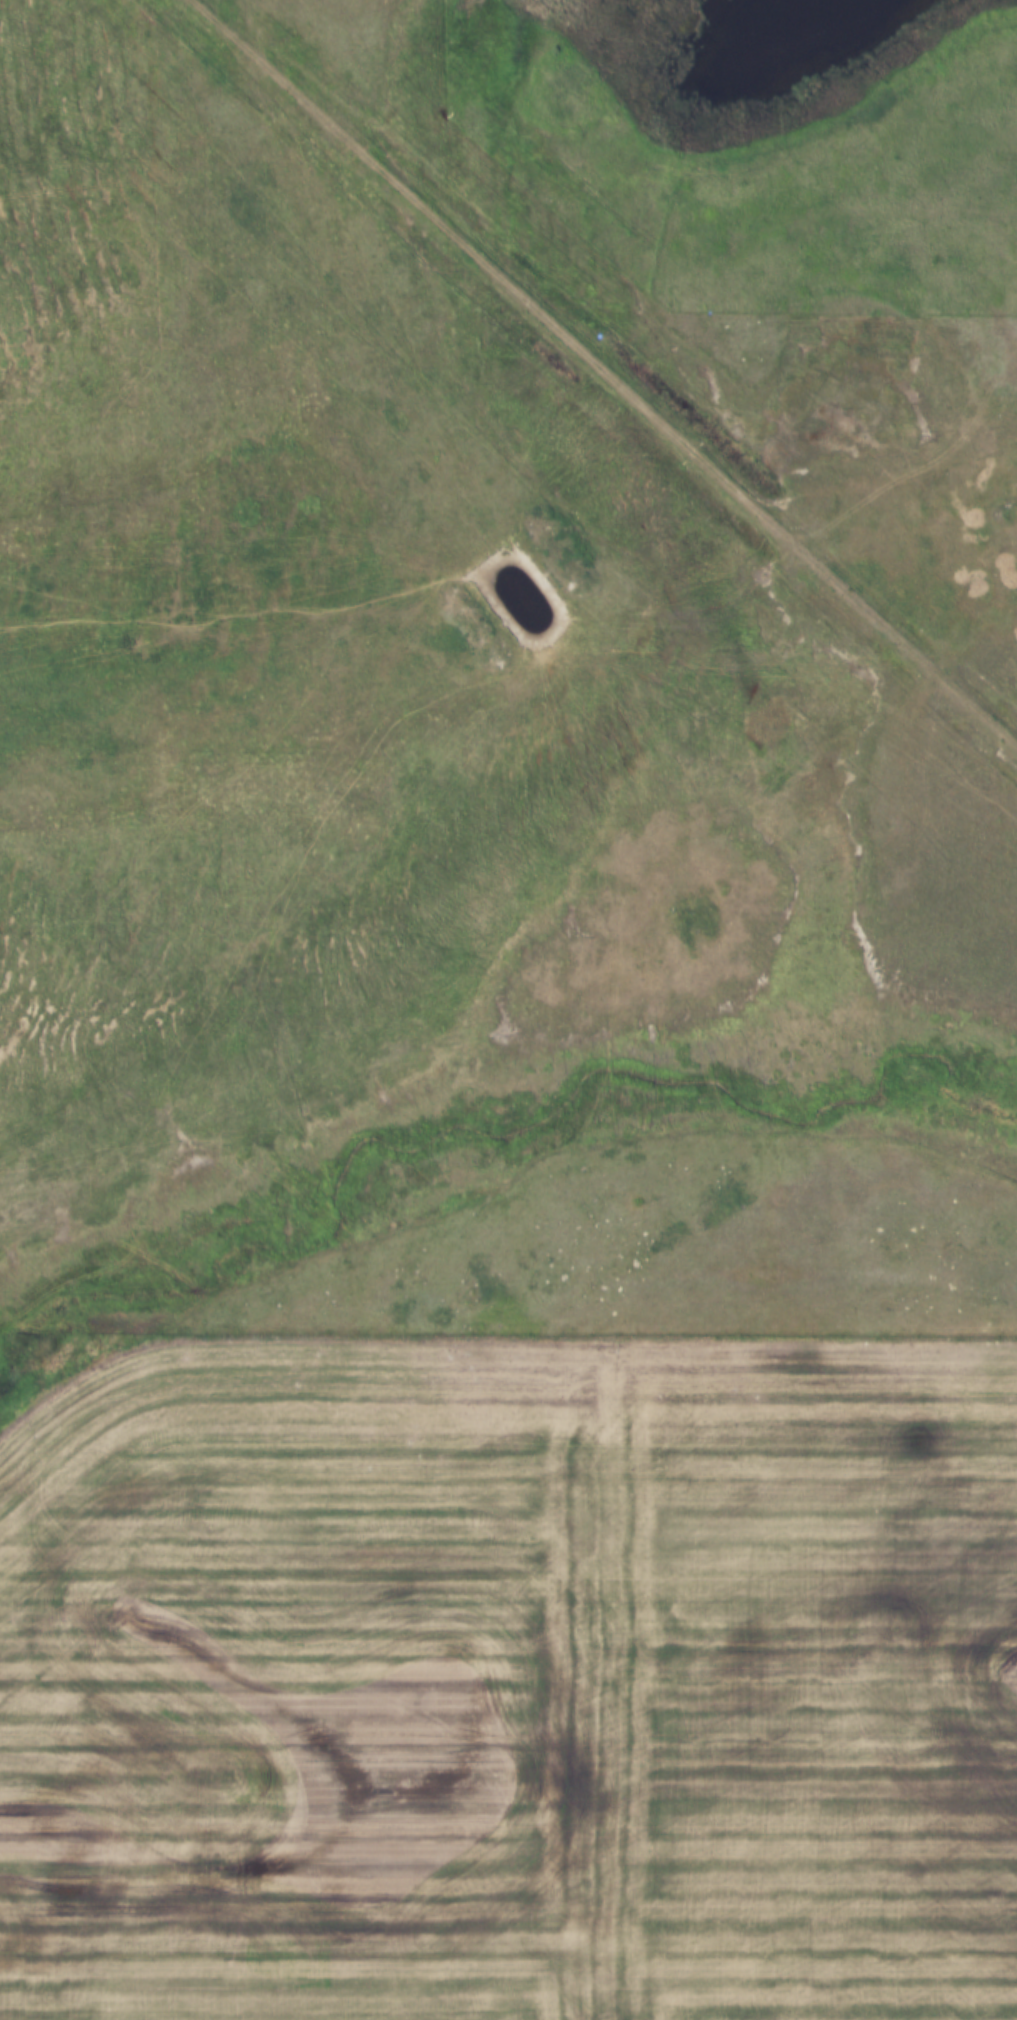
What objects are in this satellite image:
road: (626, 1685)

